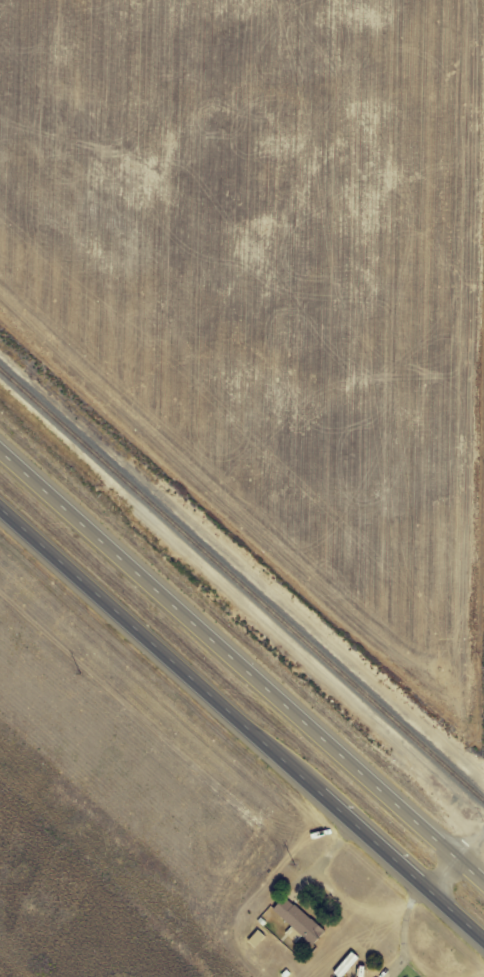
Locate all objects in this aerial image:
railway: (242, 586)
road: (242, 667)
road: (242, 726)
road: (470, 845)
road: (442, 876)
building: (299, 923)
road: (407, 959)

